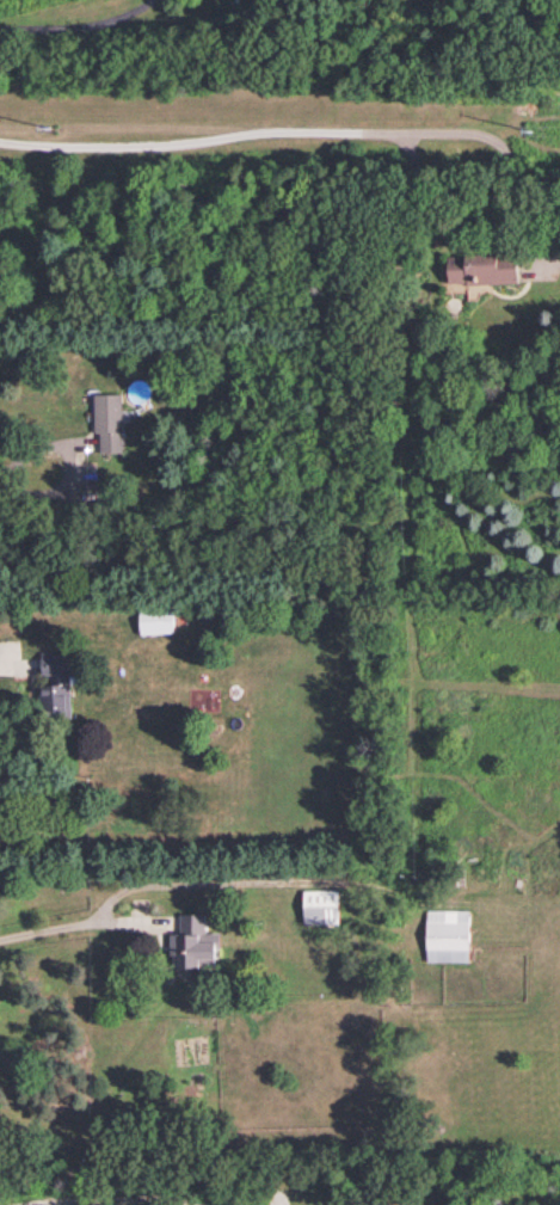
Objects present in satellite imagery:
road: (76, 26)
road: (252, 130)
power tower: (56, 134)
power tower: (541, 137)
building: (482, 268)
building: (109, 420)
road: (49, 488)
building: (156, 620)
road: (2, 665)
building: (54, 683)
road: (133, 886)
building: (321, 905)
building: (448, 934)
building: (193, 942)
road: (124, 1201)

